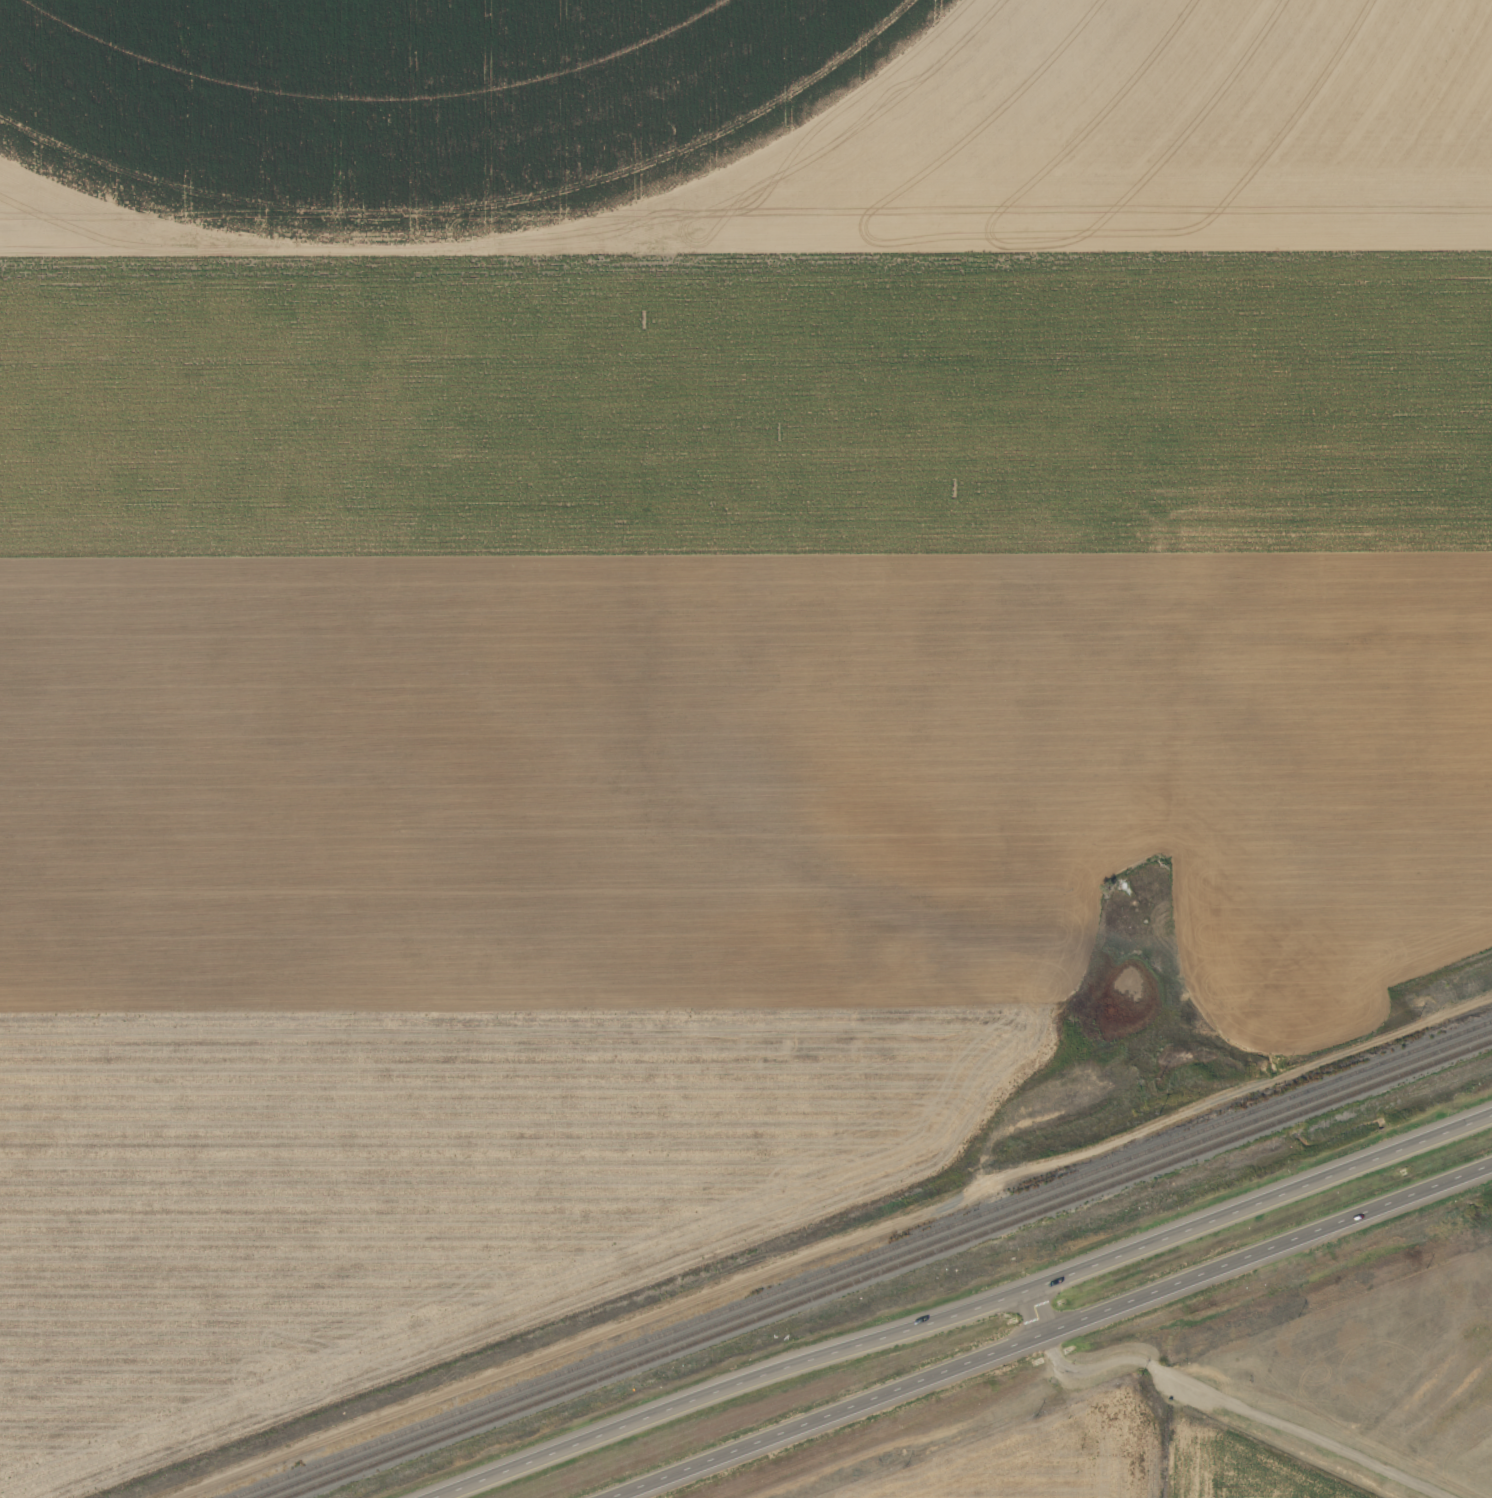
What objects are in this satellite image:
road: (1152, 1037)
railway: (860, 1258)
railway: (874, 1263)
railway: (885, 1268)
road: (963, 1312)
road: (600, 1331)
road: (1055, 1333)
road: (1151, 1359)
railway: (1375, 1402)

